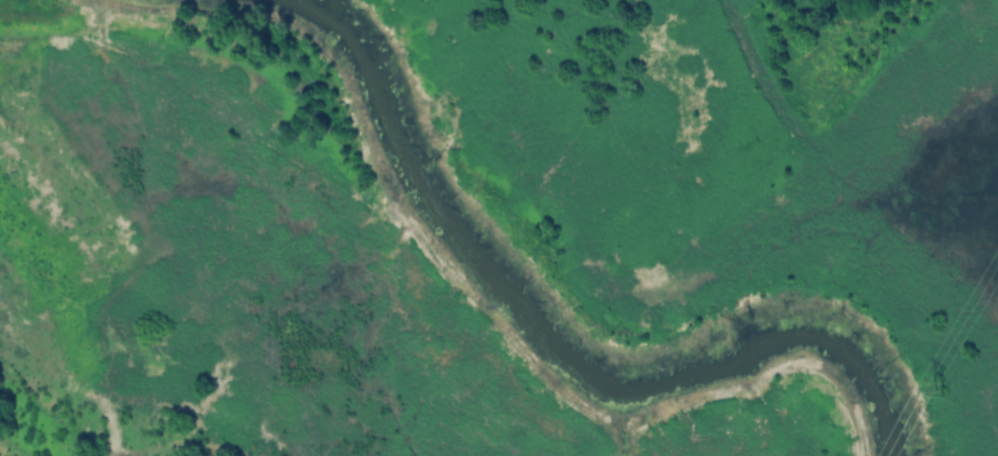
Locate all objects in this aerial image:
road: (209, 442)

